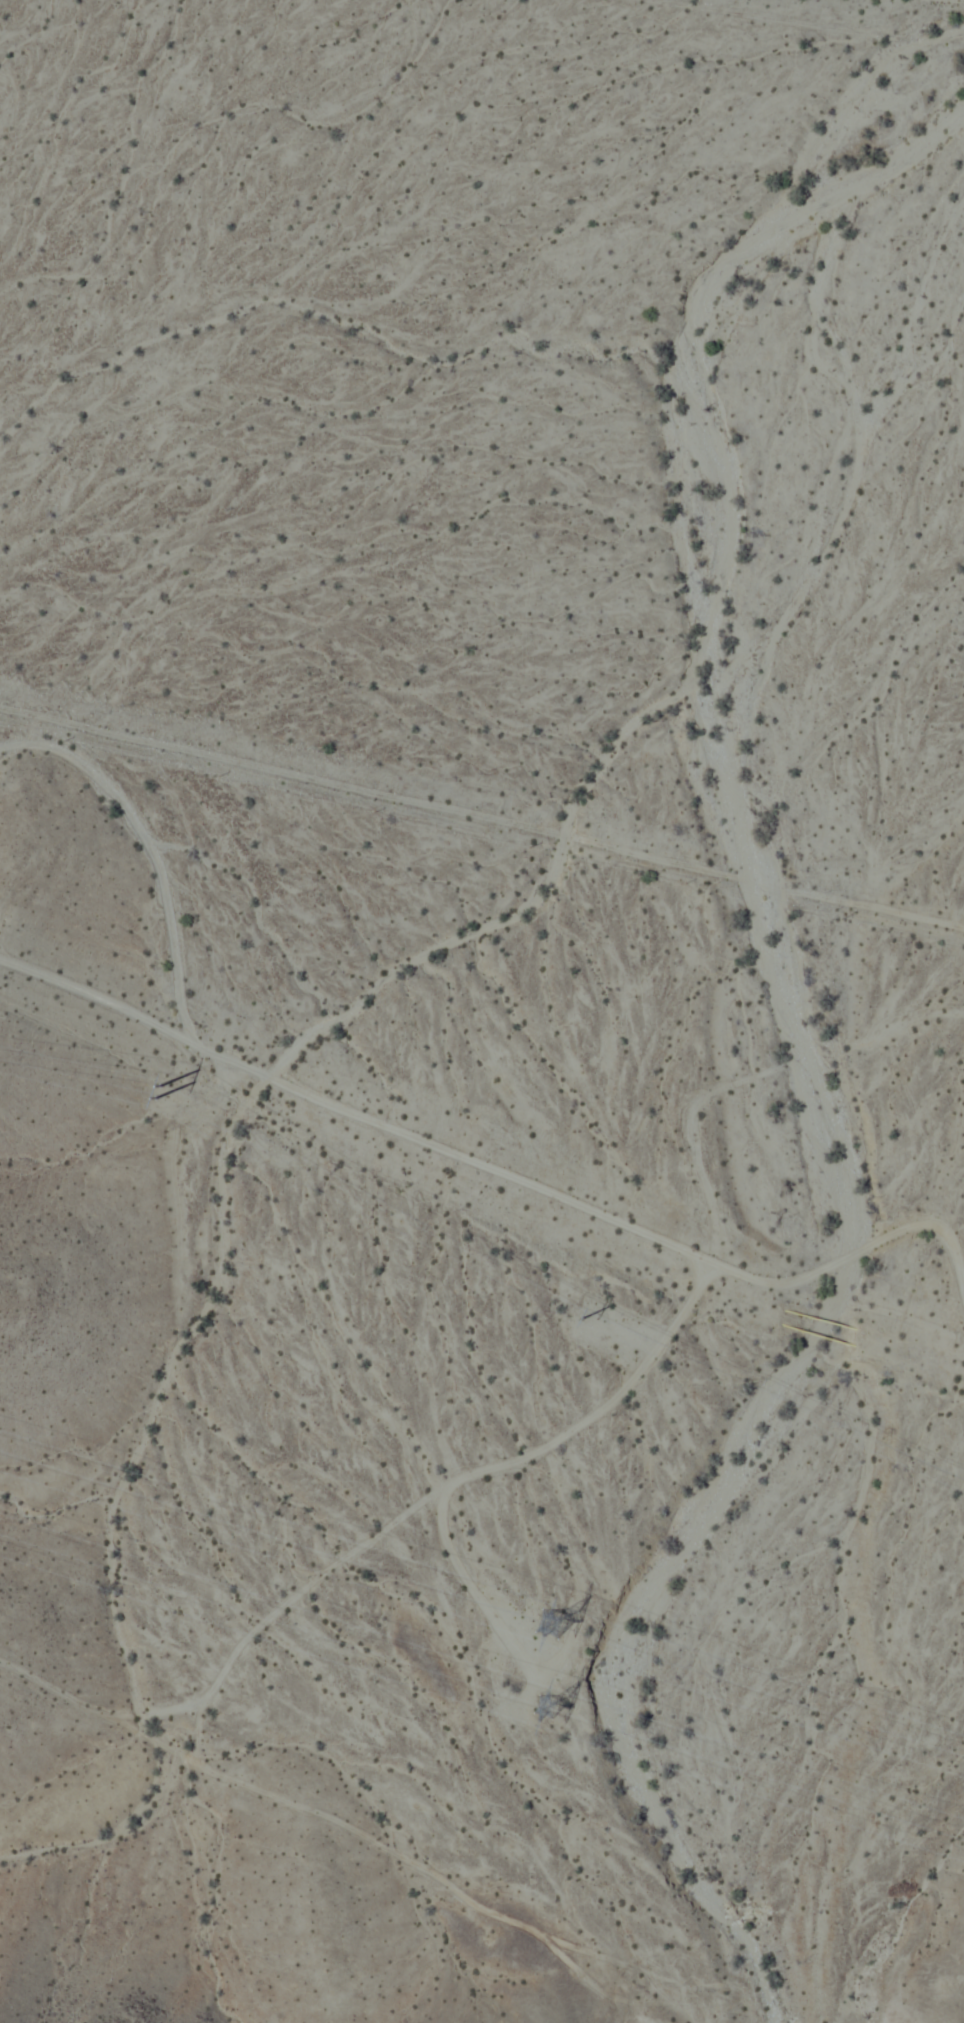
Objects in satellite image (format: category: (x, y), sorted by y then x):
road: (481, 820)
power tower: (152, 1090)
road: (494, 1171)
power tower: (549, 1621)
power tower: (547, 1702)

